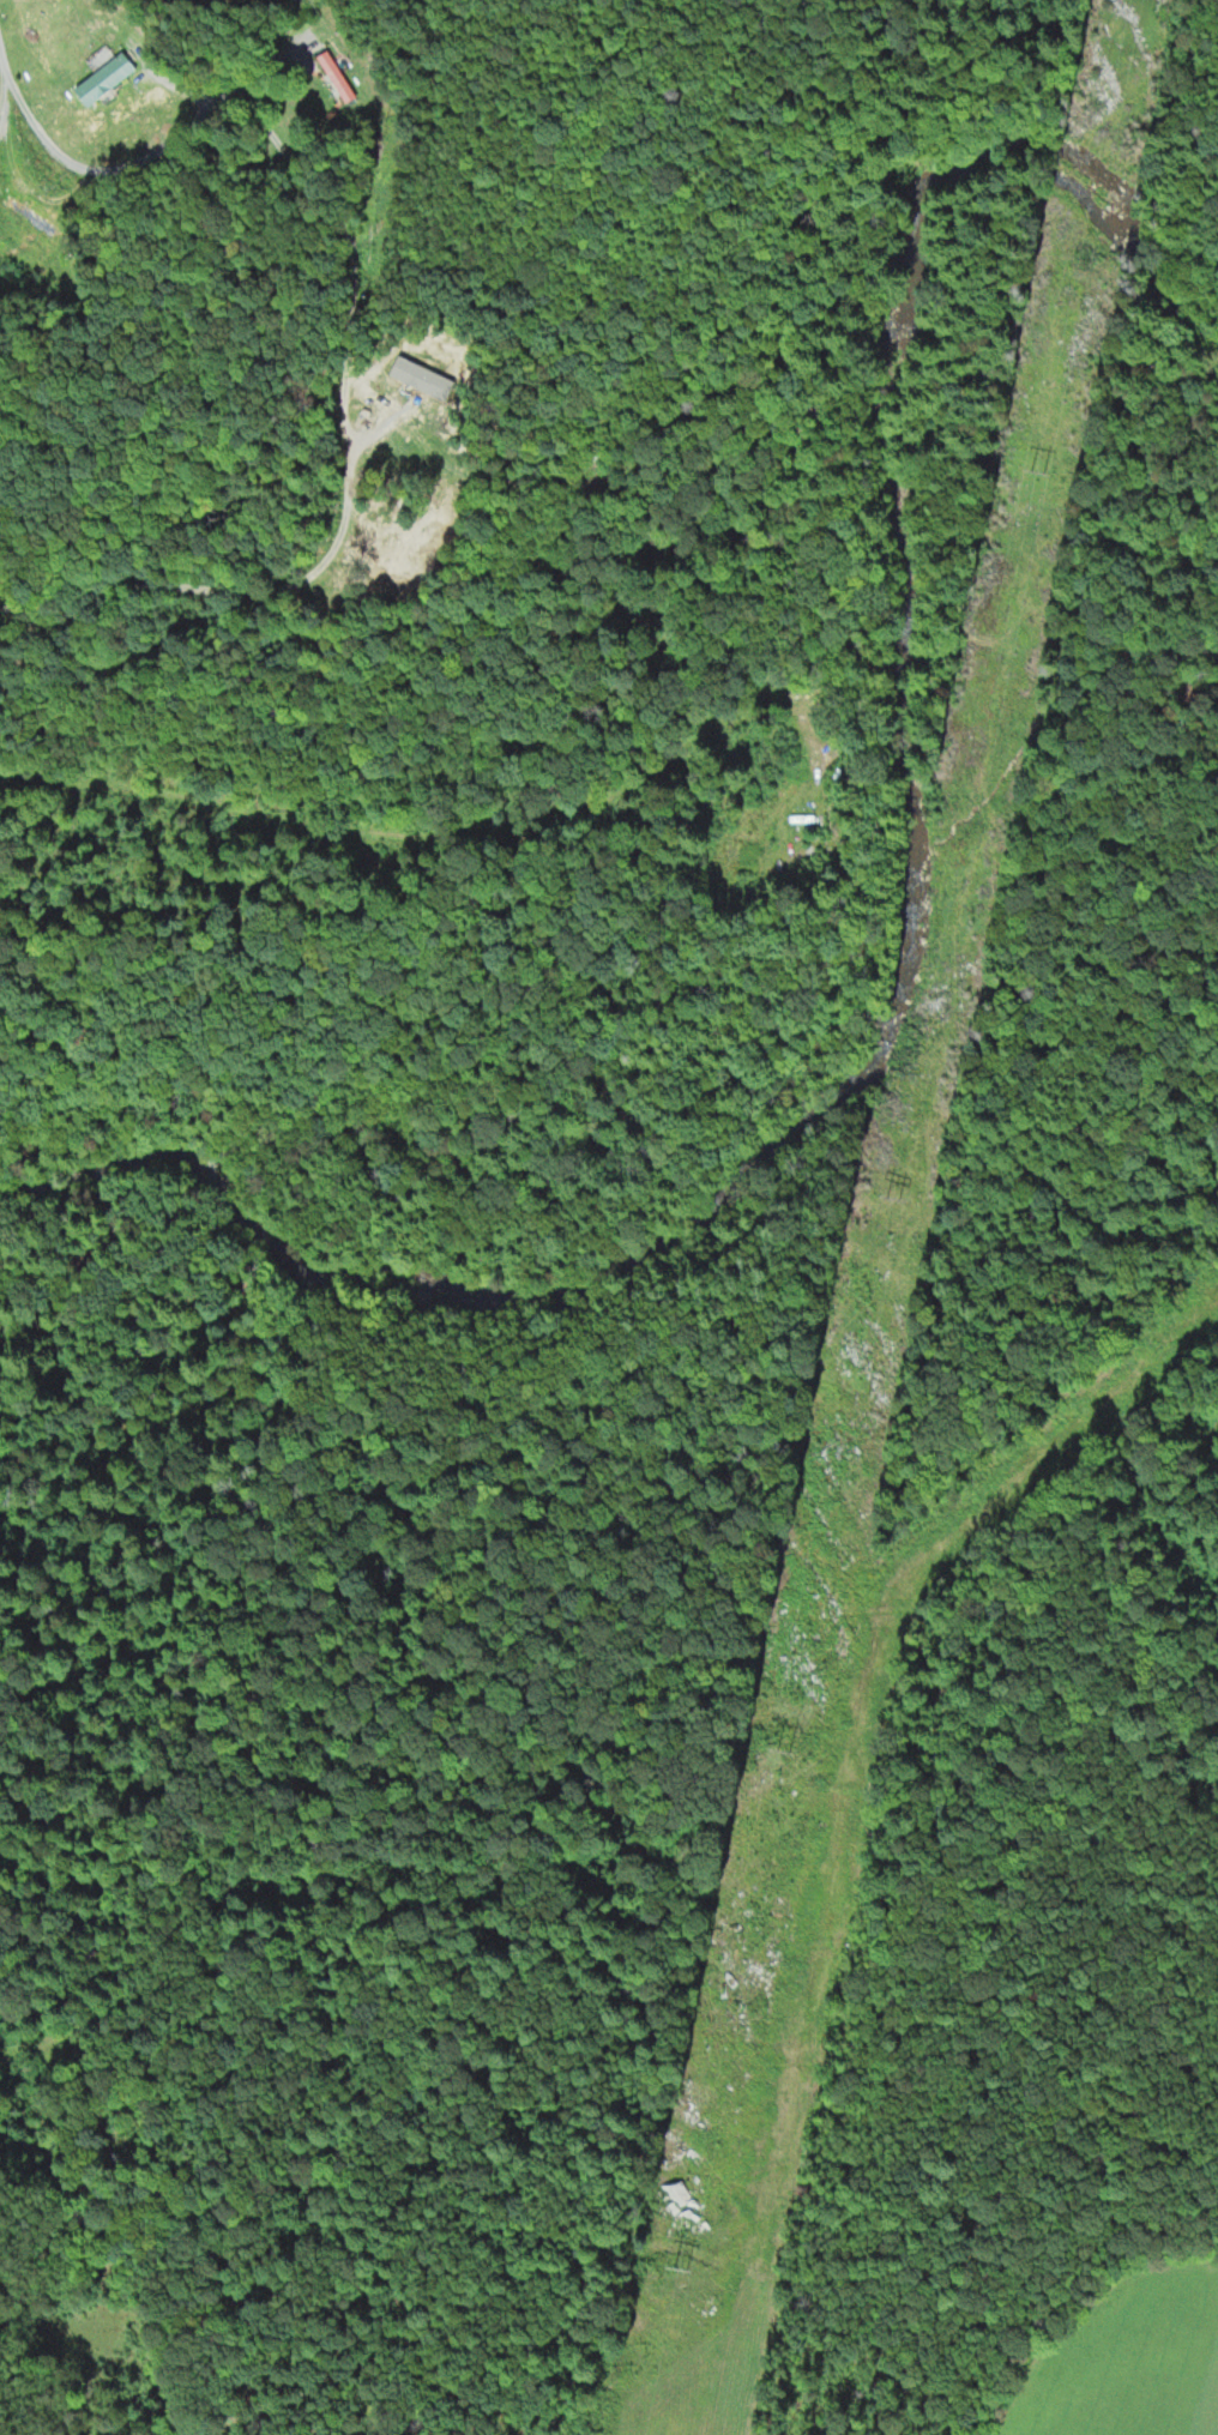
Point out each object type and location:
building: (334, 76)
building: (100, 78)
river: (898, 926)

